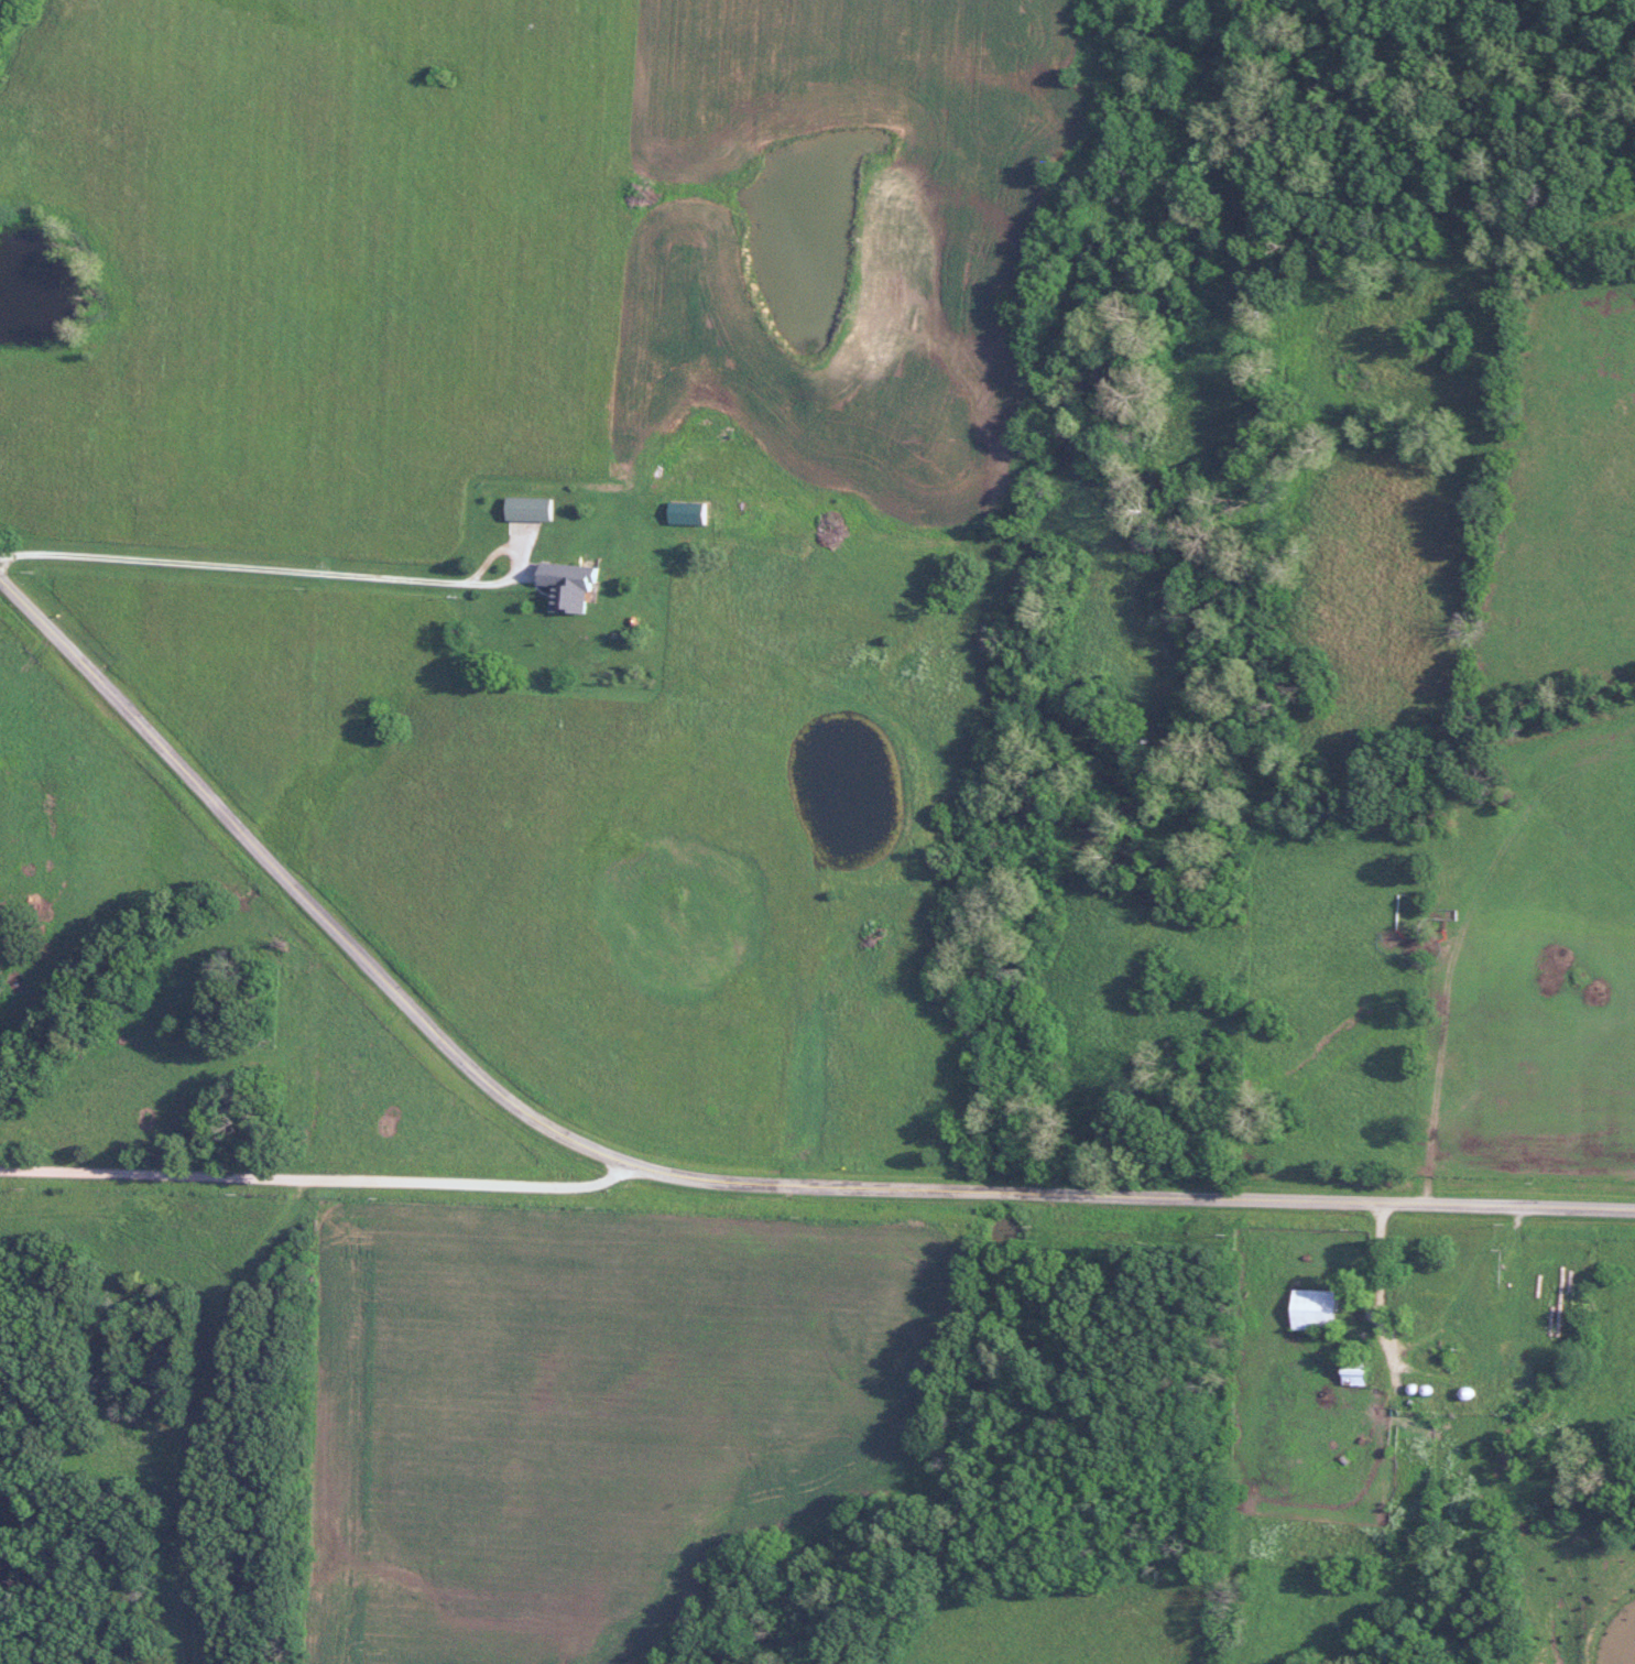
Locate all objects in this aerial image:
building: (678, 496)
building: (524, 508)
building: (661, 541)
road: (283, 570)
building: (563, 586)
park: (227, 1049)
road: (314, 1177)
road: (697, 1179)
road: (1381, 1293)
building: (1310, 1309)
building: (1350, 1371)

